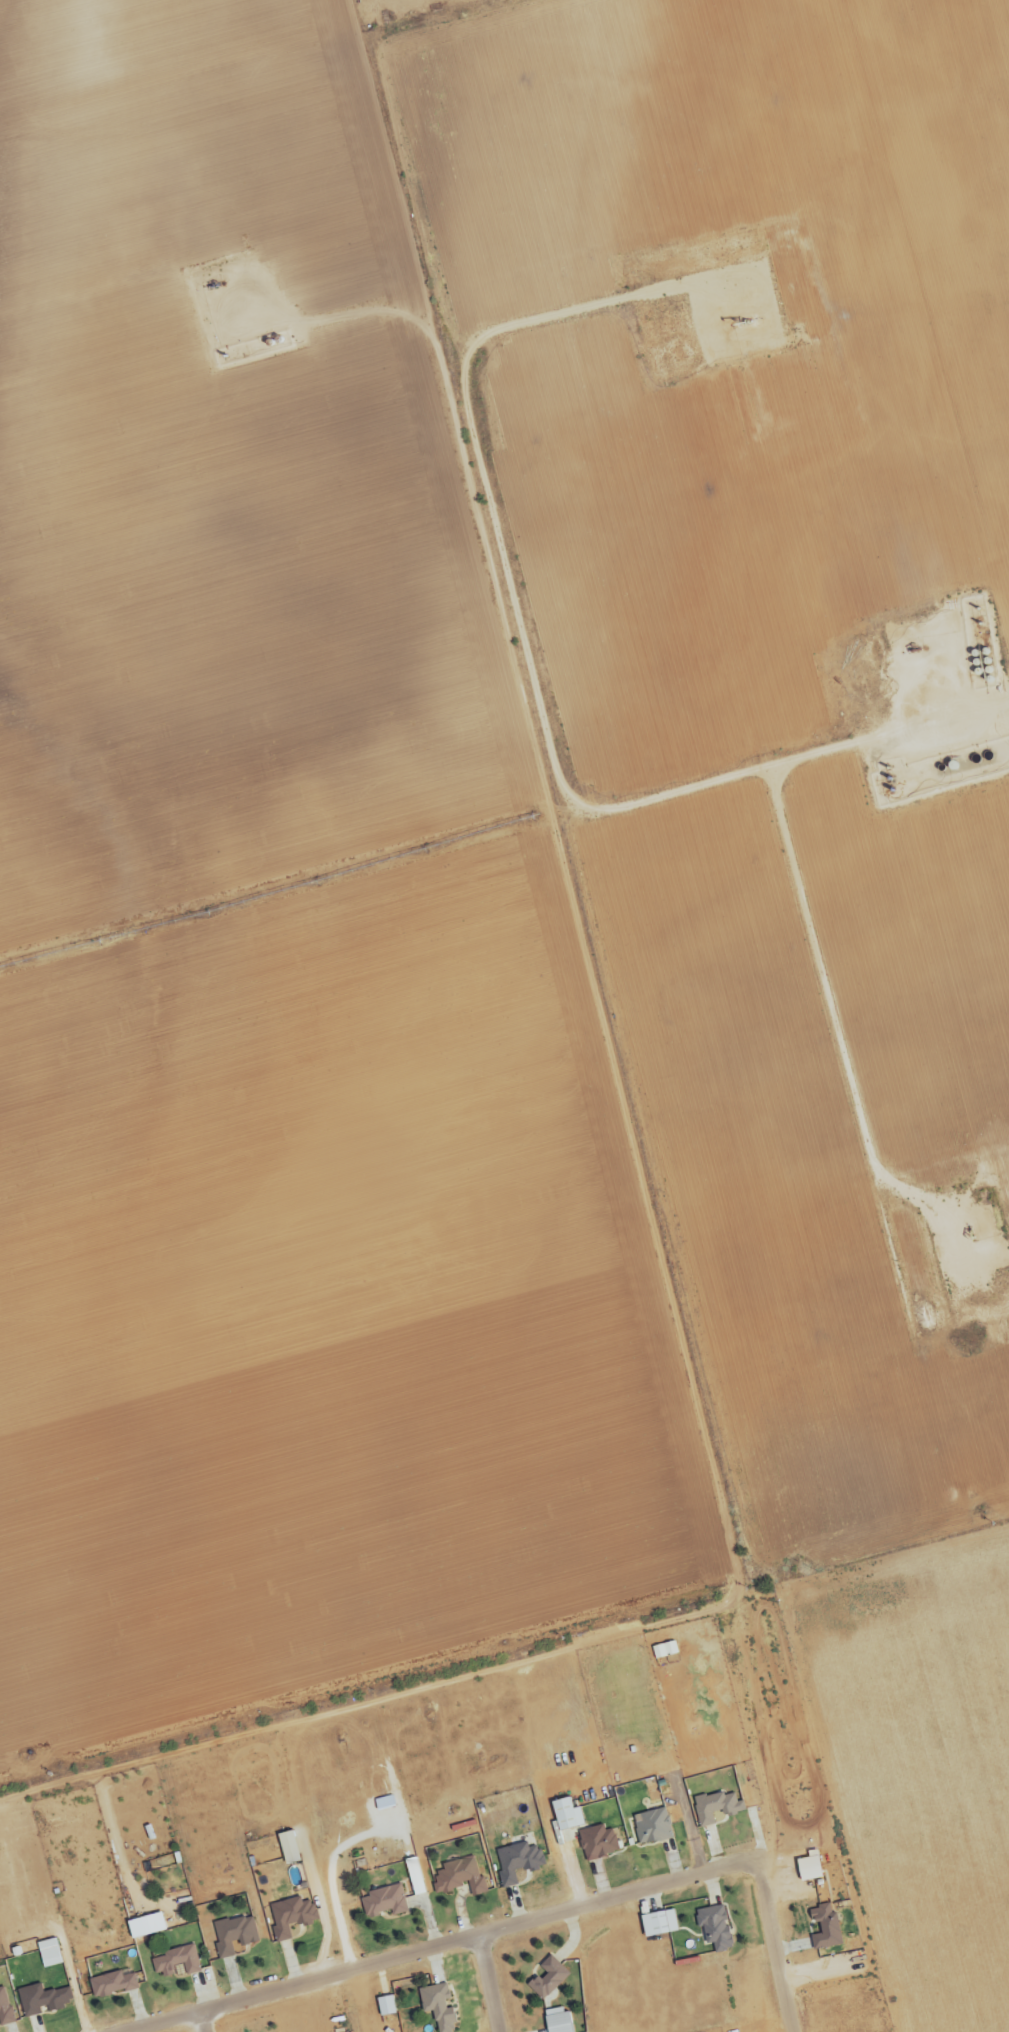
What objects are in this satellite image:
crop: (273, 975)
road: (356, 1713)
road: (435, 1944)
road: (777, 1946)
road: (489, 1982)
building: (111, 1985)
building: (437, 2006)
building: (4, 2009)
road: (204, 2021)

